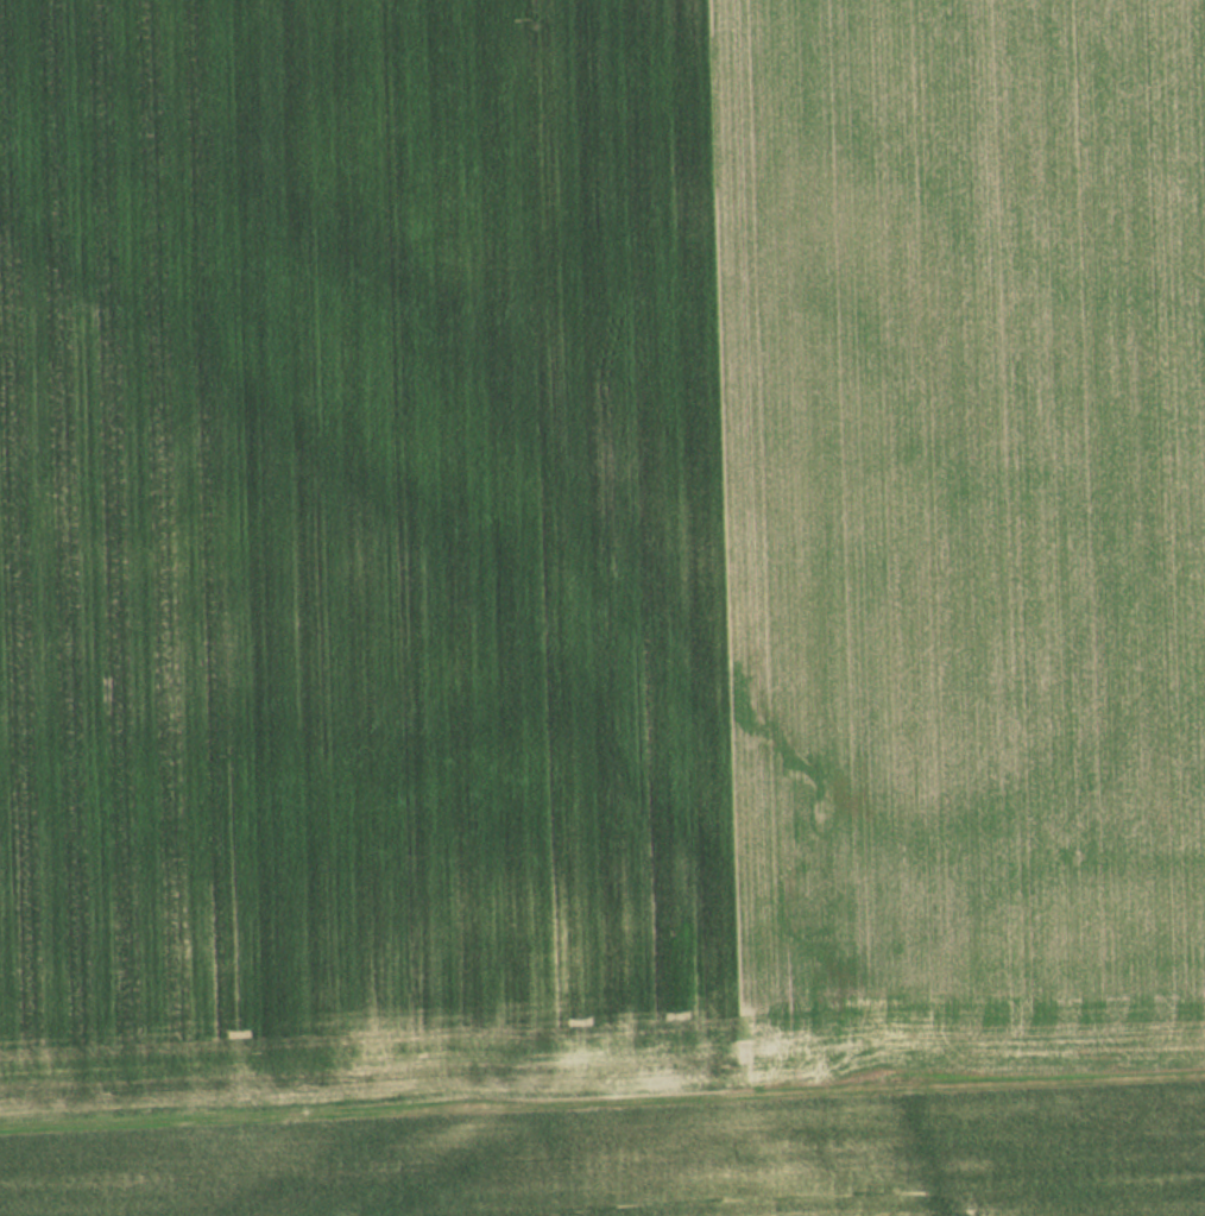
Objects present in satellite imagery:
crop: (597, 541)

